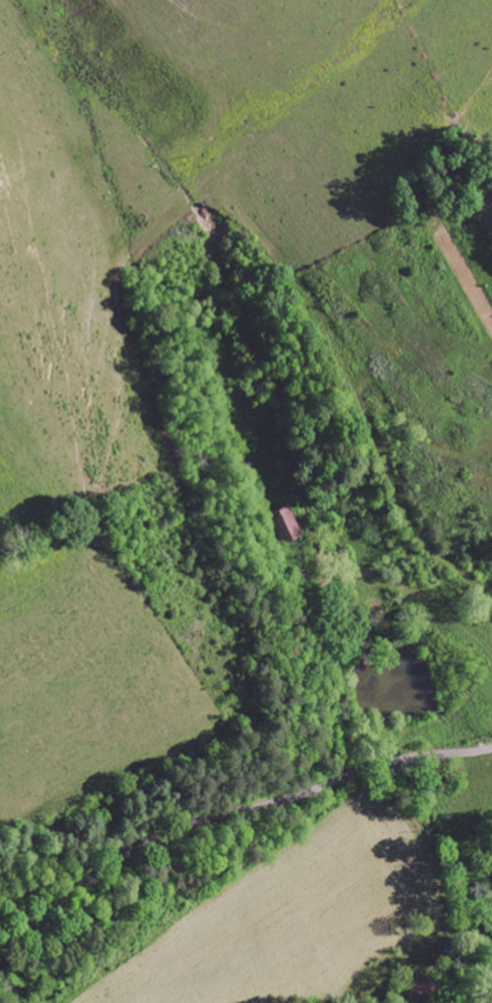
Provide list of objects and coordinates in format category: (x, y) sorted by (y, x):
road: (233, 815)

